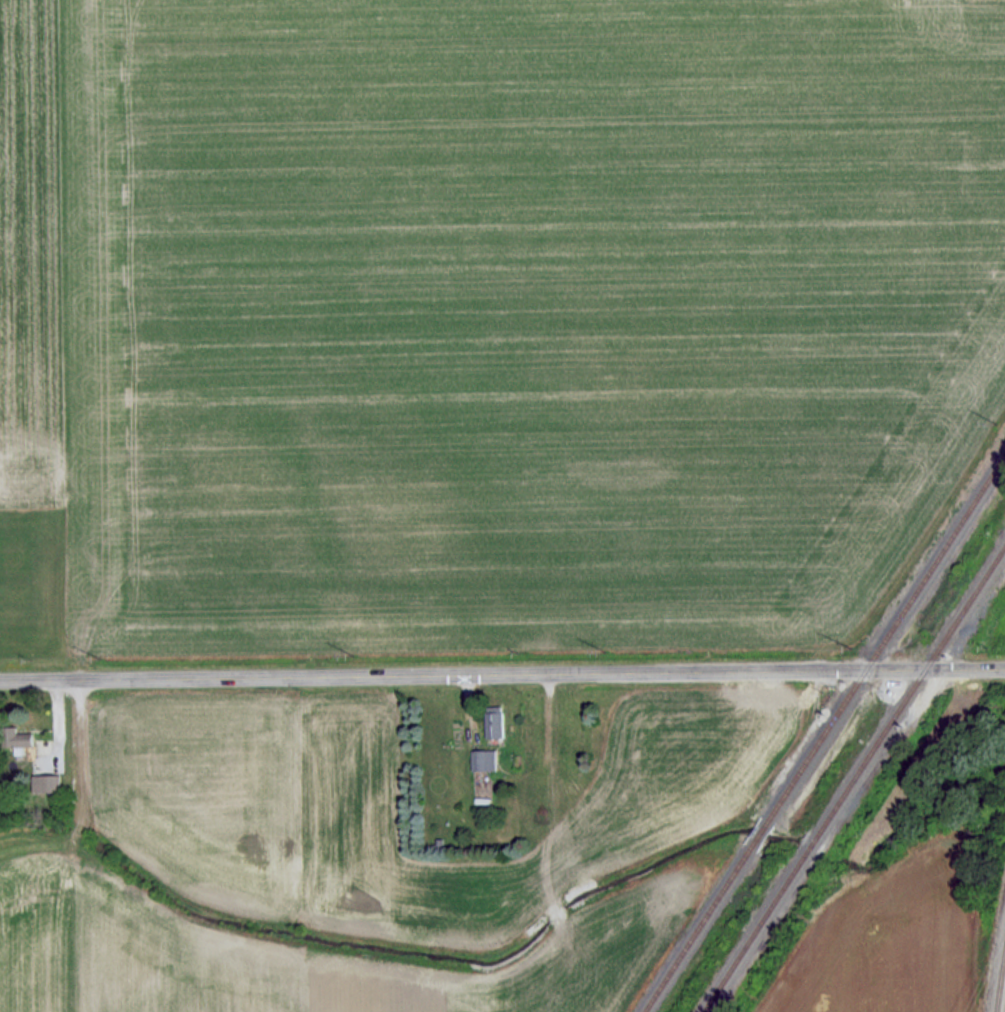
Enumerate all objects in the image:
road: (502, 673)
building: (494, 722)
railway: (824, 731)
building: (17, 737)
building: (484, 759)
railway: (852, 776)
building: (46, 783)
crop: (889, 937)
railway: (999, 978)
railway: (1004, 1010)

